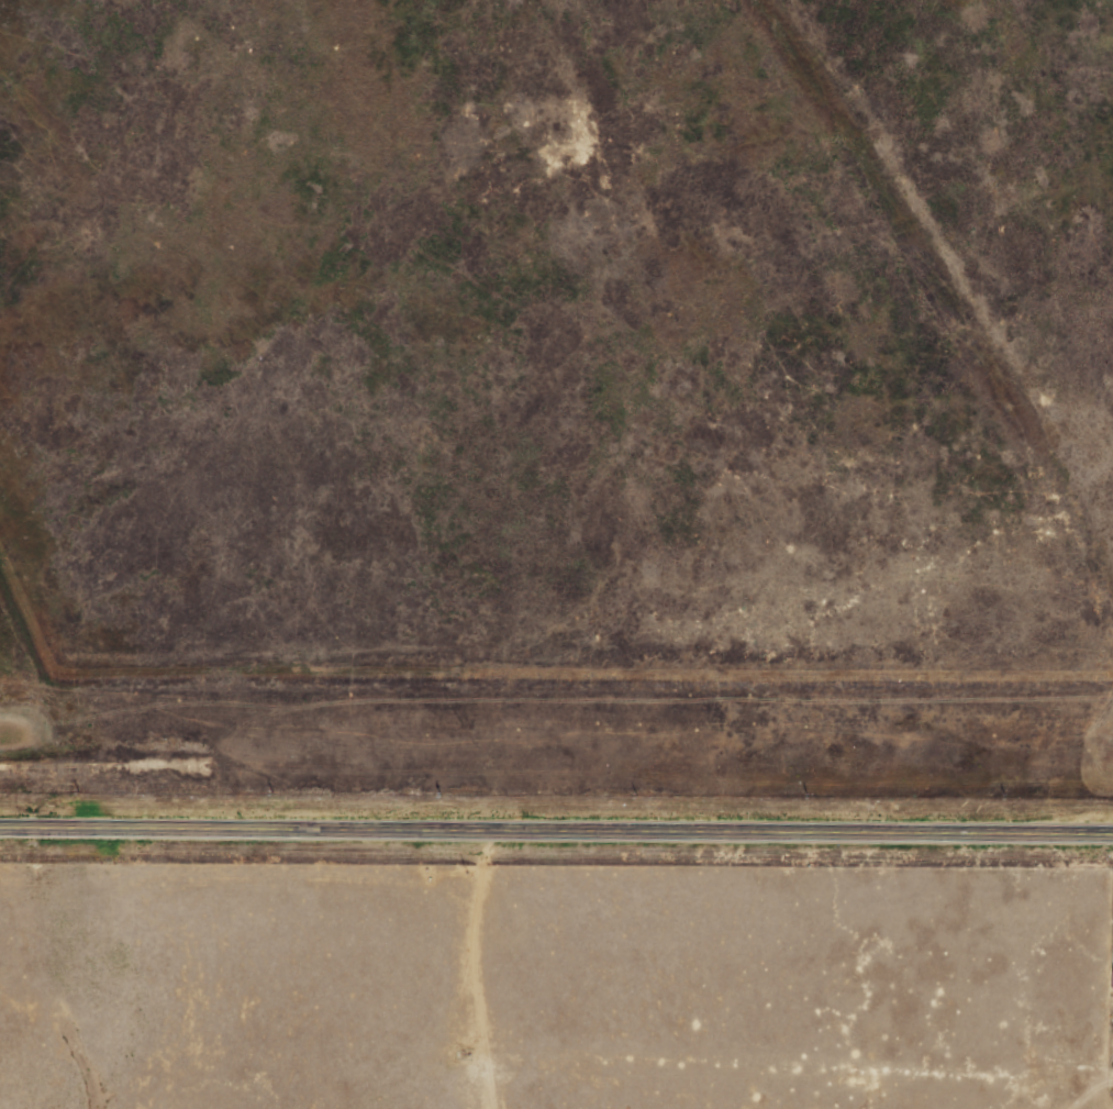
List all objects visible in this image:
road: (556, 825)
building: (1111, 978)

